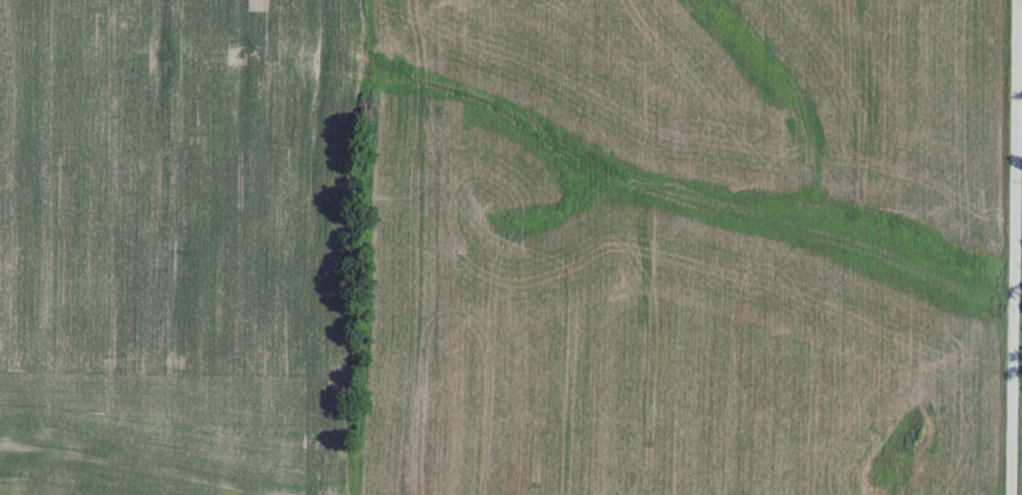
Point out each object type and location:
road: (1015, 247)

